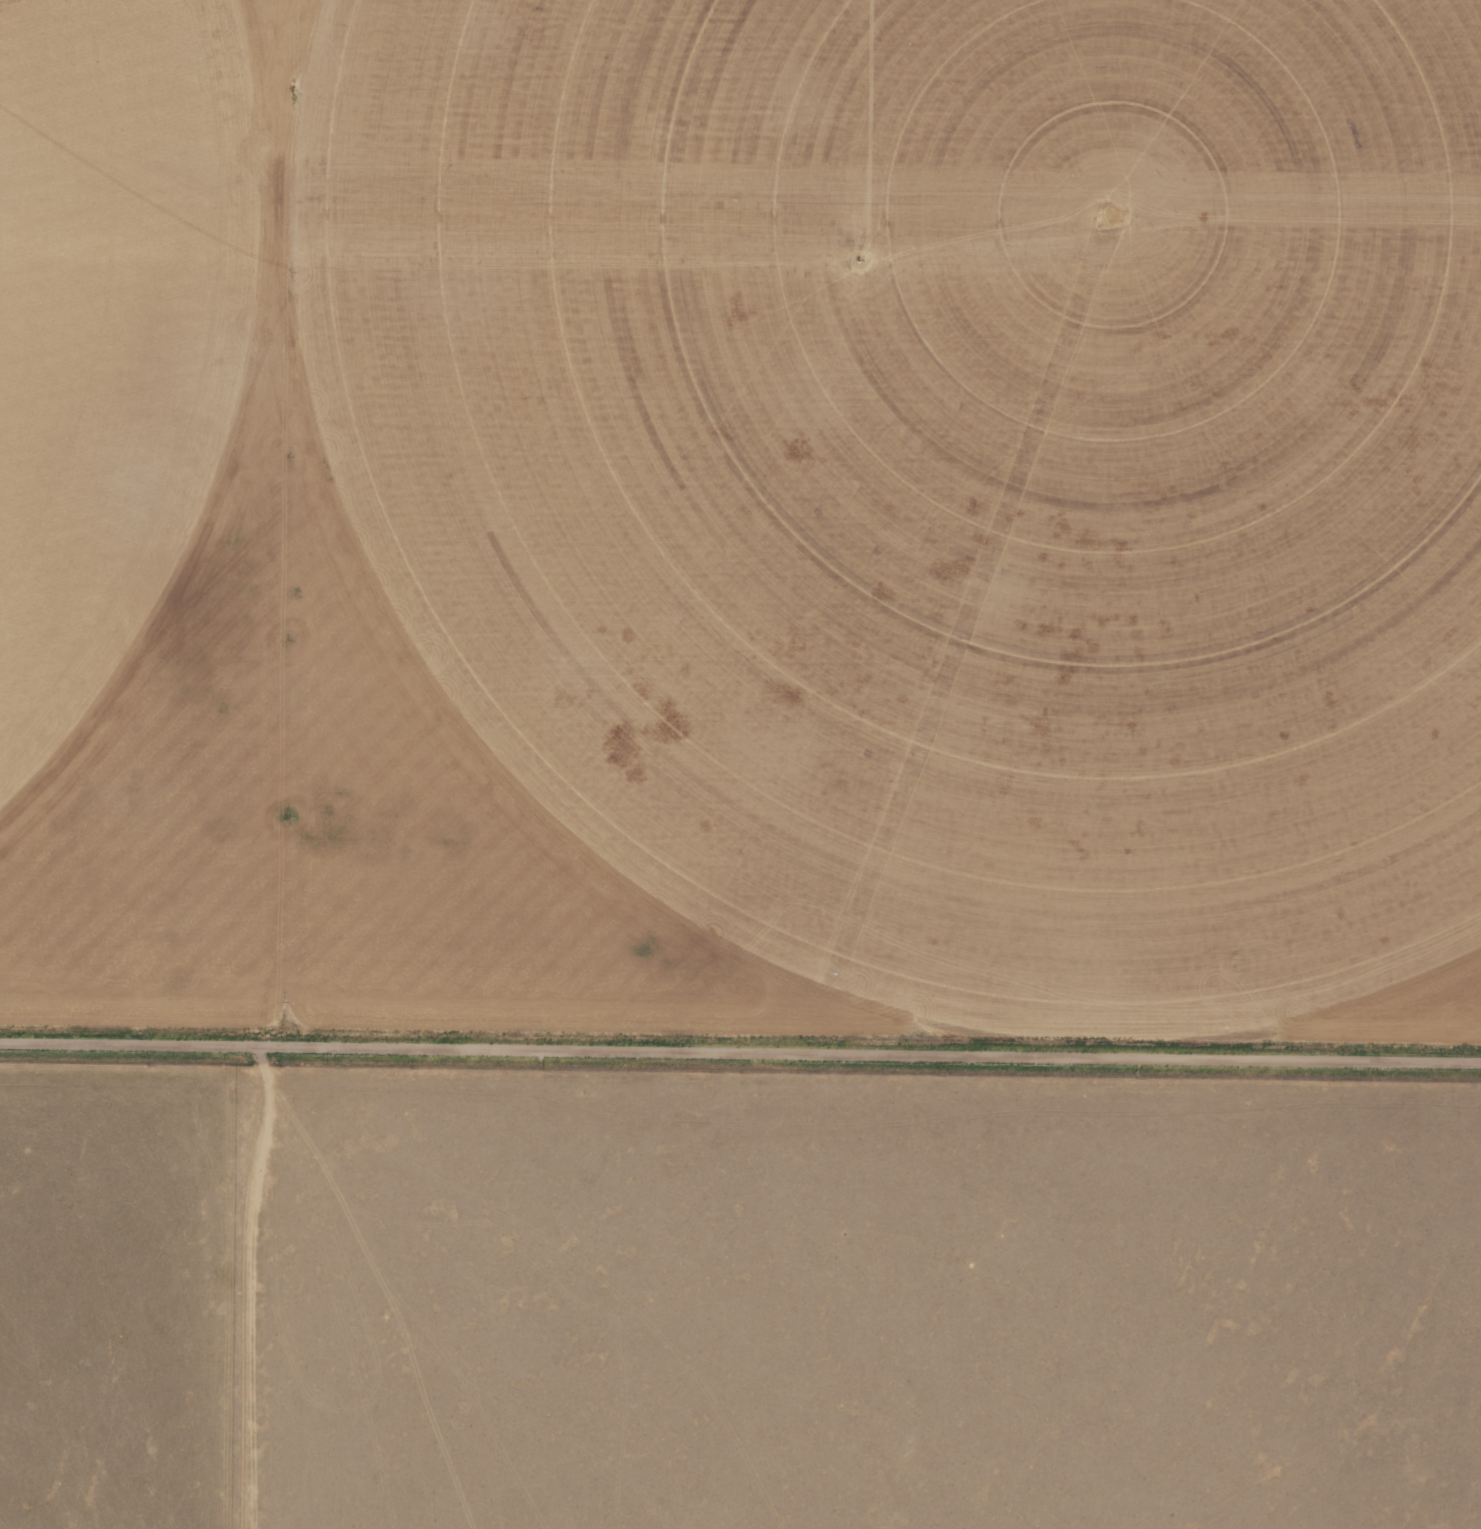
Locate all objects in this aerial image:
road: (740, 1051)

